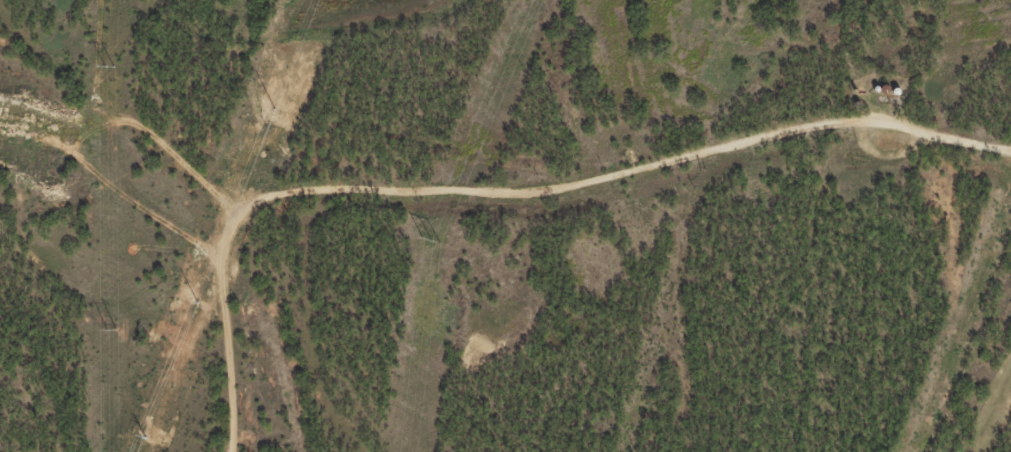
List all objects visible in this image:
power tower: (108, 66)
road: (510, 190)
power tower: (429, 240)
power tower: (108, 329)

